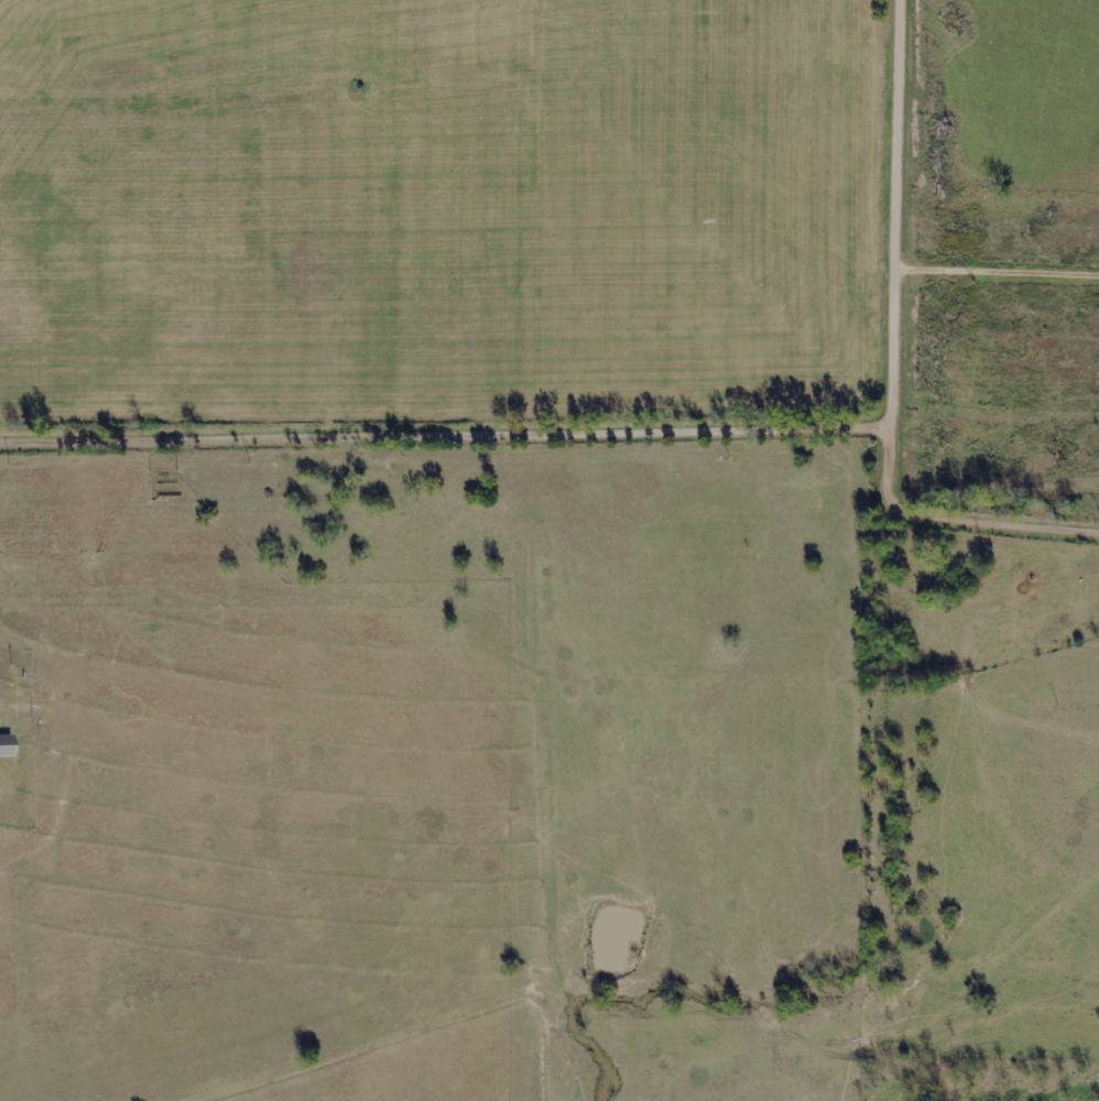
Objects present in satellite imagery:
road: (901, 227)
road: (584, 434)
building: (8, 746)

